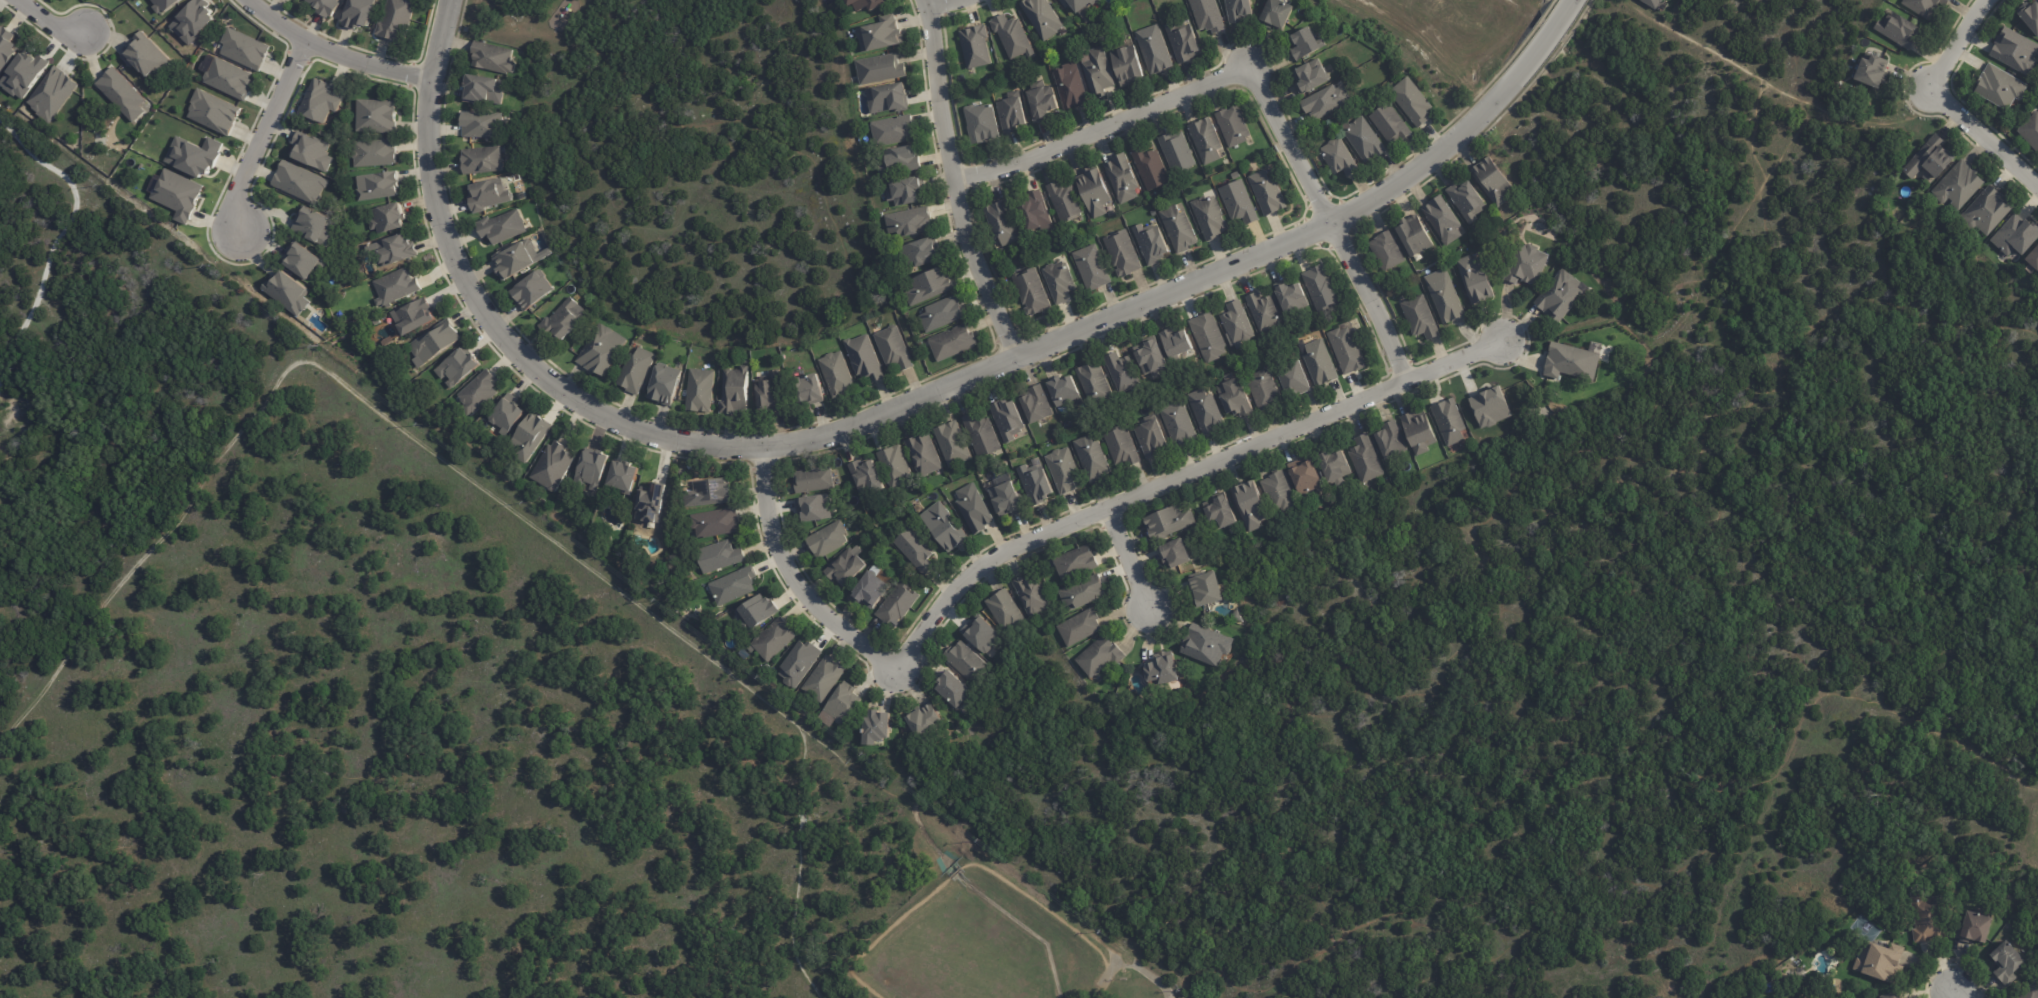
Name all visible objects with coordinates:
building: (1652, 3)
building: (870, 4)
road: (942, 4)
building: (1076, 4)
building: (164, 5)
building: (325, 6)
building: (1924, 6)
building: (1237, 10)
building: (357, 13)
building: (1276, 14)
building: (1205, 15)
building: (2029, 16)
building: (1042, 18)
building: (399, 19)
building: (193, 20)
road: (49, 22)
building: (1897, 29)
building: (883, 34)
building: (1010, 38)
building: (1181, 42)
road: (1964, 42)
building: (1303, 45)
building: (6, 46)
building: (973, 48)
building: (244, 49)
building: (1155, 50)
building: (2014, 50)
road: (333, 52)
building: (145, 54)
building: (496, 58)
building: (1126, 67)
building: (883, 69)
building: (1870, 71)
building: (1098, 72)
building: (24, 74)
building: (227, 77)
building: (1309, 77)
building: (1998, 86)
building: (486, 89)
building: (1068, 90)
road: (1775, 90)
building: (53, 93)
building: (123, 93)
building: (891, 97)
building: (319, 101)
building: (1040, 102)
building: (1411, 102)
building: (1324, 103)
building: (213, 111)
building: (1013, 115)
building: (378, 116)
road: (758, 122)
building: (485, 124)
building: (981, 124)
building: (1389, 124)
building: (1235, 126)
building: (897, 129)
road: (1102, 129)
building: (2030, 130)
road: (263, 137)
road: (1985, 137)
building: (1208, 140)
building: (1365, 140)
building: (314, 152)
building: (376, 152)
building: (1179, 152)
building: (195, 155)
building: (1339, 158)
building: (1931, 159)
building: (485, 160)
building: (902, 162)
park: (698, 163)
building: (1152, 168)
building: (1237, 175)
building: (1125, 179)
building: (1495, 180)
building: (300, 182)
road: (956, 183)
building: (379, 185)
building: (1957, 185)
building: (908, 191)
building: (1096, 191)
building: (1269, 192)
building: (176, 193)
building: (491, 194)
building: (1242, 201)
building: (1469, 201)
building: (1066, 202)
building: (1986, 210)
building: (1038, 213)
building: (390, 218)
building: (1211, 218)
building: (1446, 221)
building: (913, 222)
building: (1003, 222)
road: (1326, 223)
building: (314, 225)
building: (505, 227)
building: (1180, 228)
building: (2014, 235)
road: (61, 237)
building: (1417, 237)
building: (1154, 243)
building: (398, 250)
building: (926, 252)
building: (1390, 253)
building: (1123, 254)
building: (2032, 258)
building: (519, 259)
building: (305, 261)
building: (1528, 264)
building: (1095, 267)
building: (1478, 281)
building: (1060, 283)
building: (398, 286)
building: (932, 287)
building: (1323, 289)
building: (536, 291)
building: (287, 292)
building: (1033, 292)
building: (1563, 293)
building: (1294, 297)
building: (1447, 298)
building: (946, 314)
building: (1266, 314)
building: (416, 316)
building: (1422, 318)
building: (566, 320)
building: (378, 321)
building: (1239, 323)
building: (1212, 337)
building: (439, 341)
building: (954, 342)
building: (1181, 343)
building: (897, 348)
building: (604, 350)
building: (1350, 351)
building: (1155, 357)
building: (868, 358)
building: (1570, 361)
building: (1319, 362)
building: (708, 363)
building: (461, 368)
building: (639, 371)
building: (1122, 373)
building: (840, 374)
building: (1294, 378)
building: (671, 383)
building: (1096, 384)
building: (814, 389)
building: (703, 390)
building: (1065, 390)
building: (739, 391)
building: (1266, 391)
building: (481, 392)
building: (774, 393)
building: (1237, 399)
road: (901, 405)
building: (1039, 406)
building: (1489, 406)
building: (1208, 412)
building: (510, 414)
building: (1010, 420)
building: (1452, 422)
building: (1182, 423)
building: (1422, 432)
building: (983, 435)
building: (534, 436)
building: (1153, 438)
building: (956, 444)
building: (1394, 444)
building: (1126, 446)
building: (927, 454)
building: (1095, 458)
building: (1368, 461)
building: (555, 465)
building: (898, 466)
building: (595, 467)
building: (1339, 468)
building: (1067, 471)
building: (625, 475)
road: (464, 476)
road: (1183, 476)
building: (1309, 476)
building: (869, 478)
building: (817, 480)
building: (1040, 484)
building: (1283, 492)
building: (714, 493)
building: (1007, 496)
building: (931, 498)
building: (654, 503)
building: (1253, 507)
building: (817, 508)
building: (978, 510)
building: (1223, 511)
building: (718, 523)
building: (1172, 523)
building: (950, 528)
building: (831, 540)
building: (919, 549)
building: (621, 552)
building: (1179, 552)
building: (723, 556)
building: (1078, 563)
road: (1129, 566)
building: (850, 568)
road: (793, 578)
building: (737, 586)
building: (1212, 589)
building: (875, 592)
building: (1086, 592)
building: (774, 597)
building: (1034, 597)
building: (900, 604)
building: (1008, 610)
building: (759, 611)
building: (1082, 627)
building: (982, 633)
building: (777, 640)
building: (1210, 646)
building: (1103, 656)
building: (969, 660)
building: (802, 662)
building: (1163, 669)
building: (826, 680)
building: (957, 690)
building: (847, 705)
building: (930, 722)
building: (882, 729)
park: (416, 757)
road: (977, 857)
building: (1926, 917)
building: (1975, 927)
building: (1879, 959)
building: (2007, 961)
building: (2030, 990)
building: (1890, 995)
road: (1955, 996)
building: (1832, 997)

